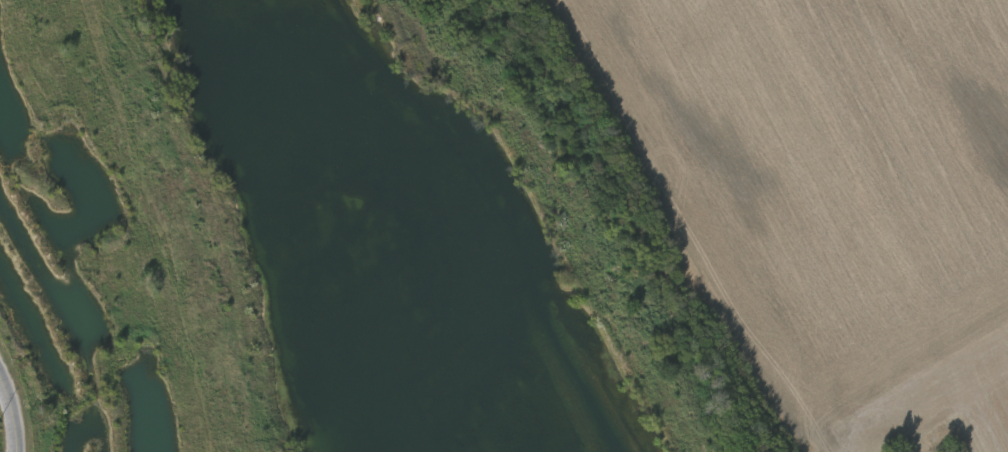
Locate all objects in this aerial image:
road: (15, 413)
crop: (954, 421)
building: (74, 434)

